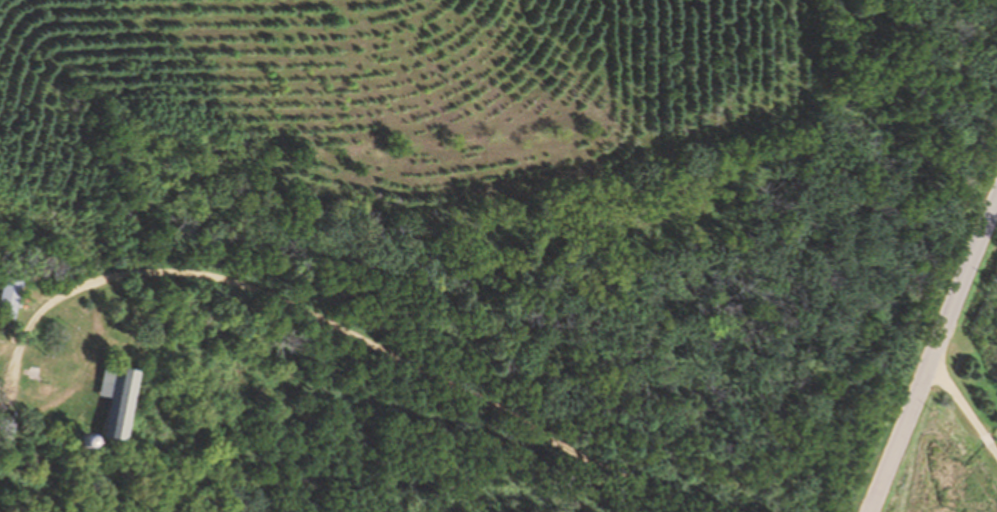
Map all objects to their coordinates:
building: (13, 298)
road: (337, 335)
road: (936, 361)
building: (124, 401)
road: (967, 402)

